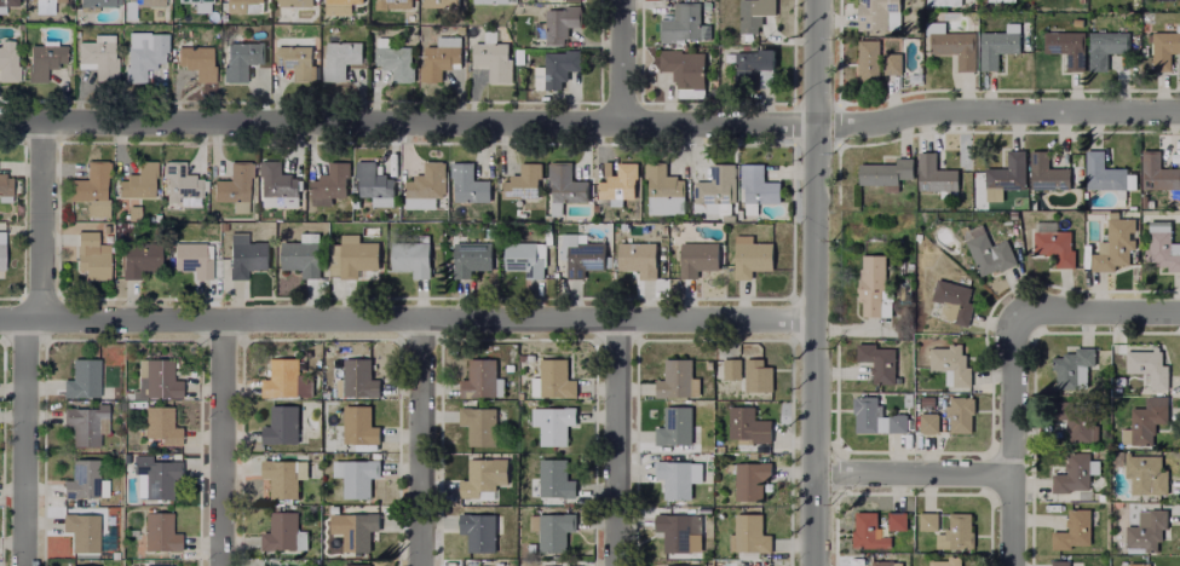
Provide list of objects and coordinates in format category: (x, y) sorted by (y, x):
building: (8, 0)
building: (212, 0)
building: (566, 0)
building: (491, 1)
building: (945, 1)
building: (997, 1)
building: (441, 2)
building: (93, 4)
building: (393, 4)
building: (1135, 4)
building: (201, 5)
building: (244, 5)
building: (44, 6)
building: (339, 6)
building: (288, 8)
building: (129, 11)
building: (755, 13)
building: (880, 15)
building: (562, 21)
building: (684, 23)
building: (954, 44)
building: (1000, 45)
building: (1067, 46)
building: (1106, 47)
building: (1167, 48)
building: (99, 54)
building: (146, 54)
building: (241, 56)
building: (516, 56)
building: (339, 57)
building: (441, 57)
building: (46, 58)
building: (395, 58)
building: (8, 60)
building: (198, 60)
building: (297, 60)
building: (491, 60)
building: (877, 60)
road: (618, 62)
building: (754, 67)
building: (557, 69)
building: (685, 70)
road: (591, 123)
building: (886, 172)
building: (1158, 172)
building: (1048, 173)
building: (1007, 175)
building: (1109, 175)
building: (182, 179)
building: (617, 179)
building: (936, 179)
building: (140, 180)
building: (523, 181)
building: (277, 183)
building: (467, 183)
building: (329, 184)
building: (374, 184)
building: (236, 185)
building: (5, 186)
building: (425, 186)
building: (565, 187)
building: (92, 189)
building: (716, 189)
building: (758, 189)
building: (664, 191)
building: (134, 212)
road: (41, 224)
building: (1054, 244)
building: (1116, 244)
building: (1162, 246)
building: (988, 250)
building: (1, 253)
building: (246, 254)
building: (303, 254)
building: (91, 255)
building: (357, 255)
building: (583, 255)
building: (140, 256)
building: (413, 256)
building: (752, 256)
building: (192, 258)
building: (472, 258)
building: (526, 258)
building: (638, 258)
building: (698, 259)
road: (815, 283)
building: (874, 287)
building: (952, 301)
road: (1094, 313)
road: (407, 323)
building: (519, 359)
building: (879, 362)
building: (951, 365)
building: (1075, 368)
building: (506, 369)
building: (733, 369)
building: (1149, 369)
building: (758, 376)
building: (87, 379)
building: (160, 379)
building: (286, 379)
building: (357, 379)
building: (675, 379)
building: (482, 380)
building: (552, 380)
building: (126, 395)
building: (518, 397)
building: (908, 400)
building: (928, 402)
building: (961, 412)
building: (877, 417)
building: (1076, 421)
building: (929, 423)
building: (87, 424)
building: (162, 424)
building: (281, 424)
building: (553, 424)
building: (1145, 424)
building: (359, 426)
building: (479, 426)
building: (675, 426)
building: (748, 426)
road: (1008, 439)
road: (23, 444)
road: (219, 444)
road: (419, 444)
road: (615, 444)
building: (1075, 473)
building: (1147, 474)
building: (155, 475)
road: (910, 475)
building: (284, 477)
building: (358, 478)
building: (86, 479)
building: (483, 479)
building: (554, 479)
building: (675, 479)
building: (749, 479)
building: (929, 521)
building: (879, 529)
building: (82, 530)
building: (161, 531)
building: (358, 531)
building: (552, 531)
building: (1146, 531)
building: (283, 532)
building: (956, 532)
building: (478, 533)
building: (1077, 533)
building: (679, 535)
building: (749, 535)
building: (105, 553)
building: (955, 561)
building: (1060, 562)
building: (887, 564)
building: (1138, 564)
building: (85, 565)
building: (154, 565)

